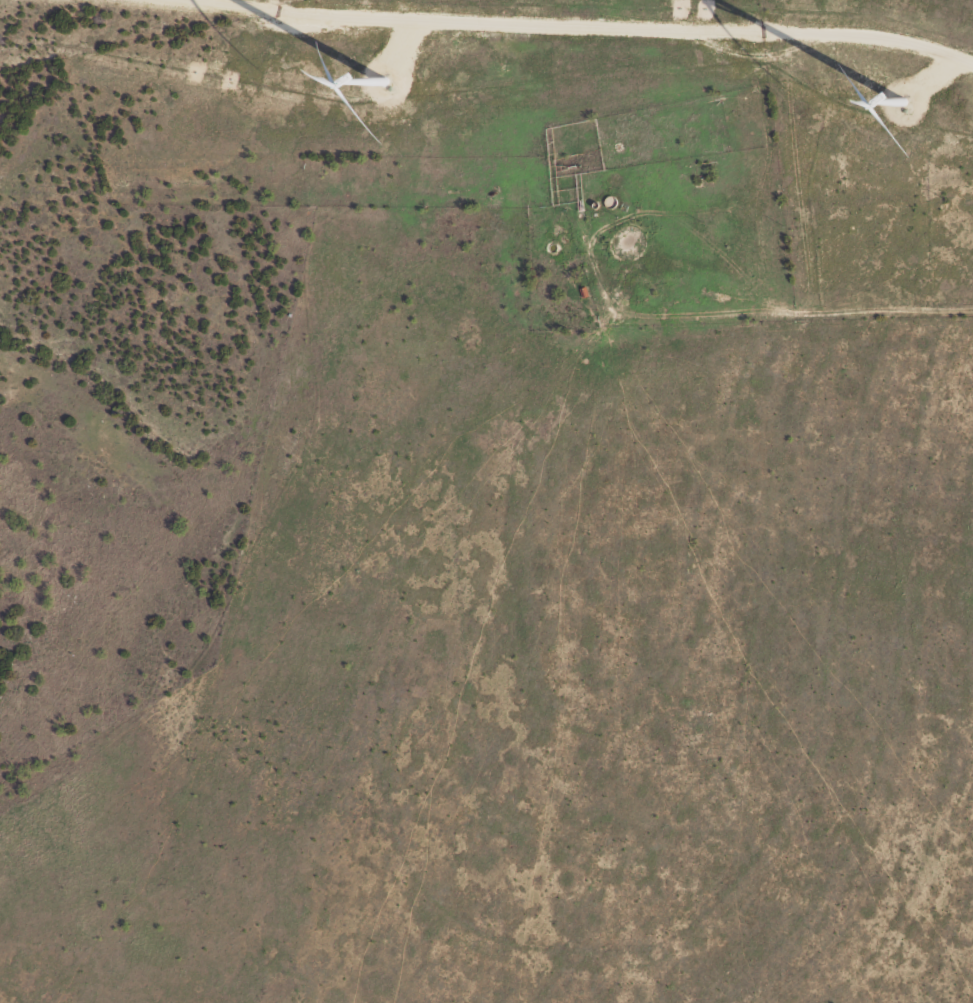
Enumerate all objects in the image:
wind turbine: (393, 64)
wind turbine: (905, 84)
road: (830, 233)
road: (943, 235)

